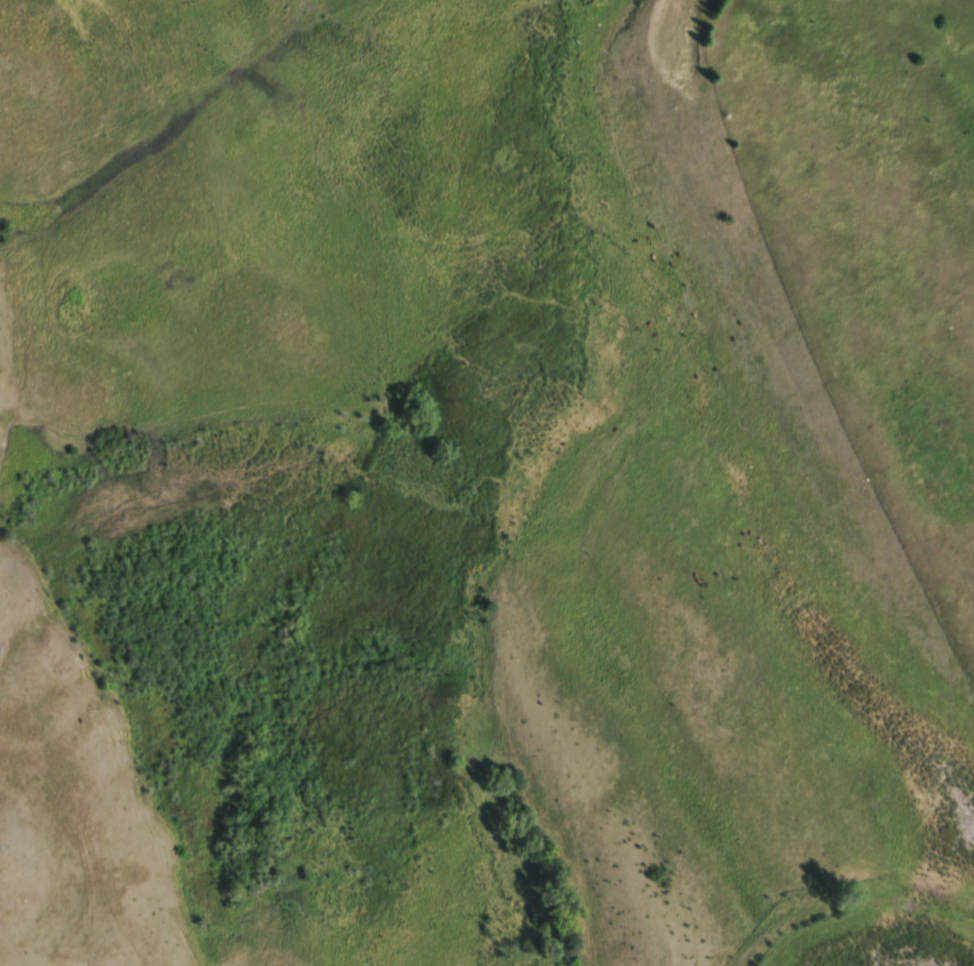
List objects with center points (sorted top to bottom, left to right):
road: (866, 912)
road: (756, 955)
road: (43, 957)

